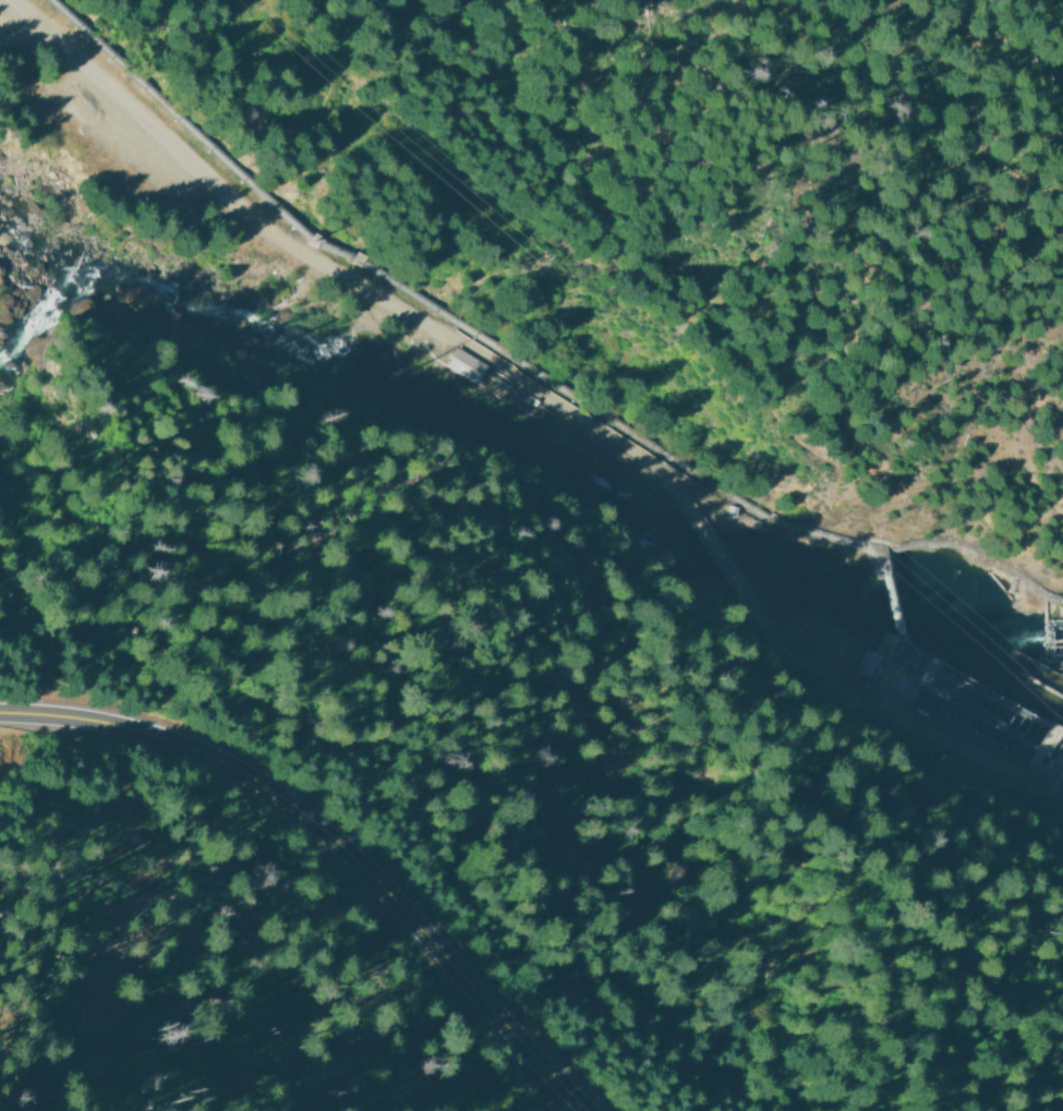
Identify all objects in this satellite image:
road: (569, 253)
road: (330, 273)
building: (461, 366)
river: (539, 491)
road: (737, 548)
road: (901, 724)
dam: (1058, 764)
road: (319, 850)

